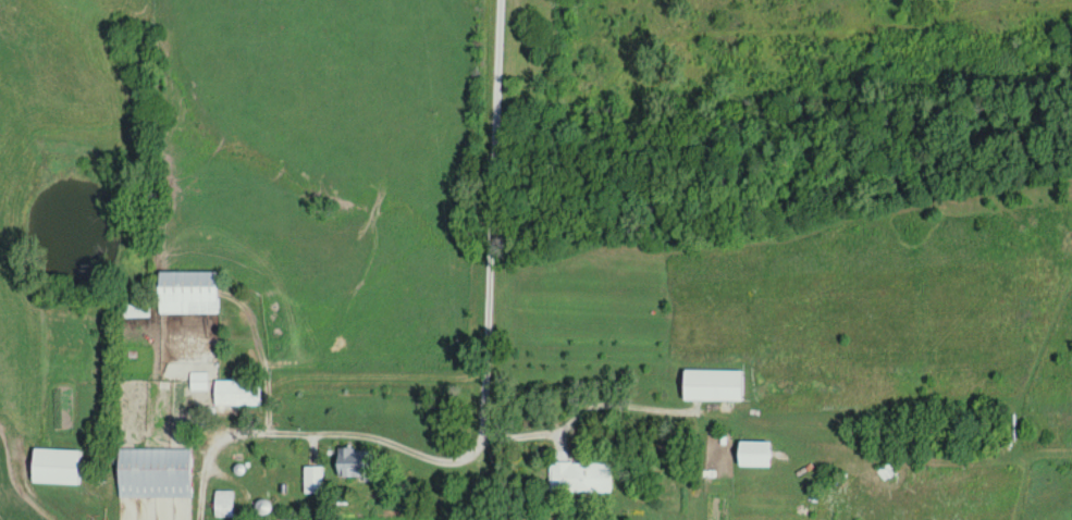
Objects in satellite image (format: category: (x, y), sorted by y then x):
road: (490, 221)
building: (187, 290)
building: (133, 308)
building: (710, 384)
building: (225, 388)
building: (752, 453)
building: (355, 461)
building: (53, 466)
building: (152, 472)
building: (578, 476)
building: (312, 479)
road: (478, 481)
building: (222, 503)
building: (295, 518)

